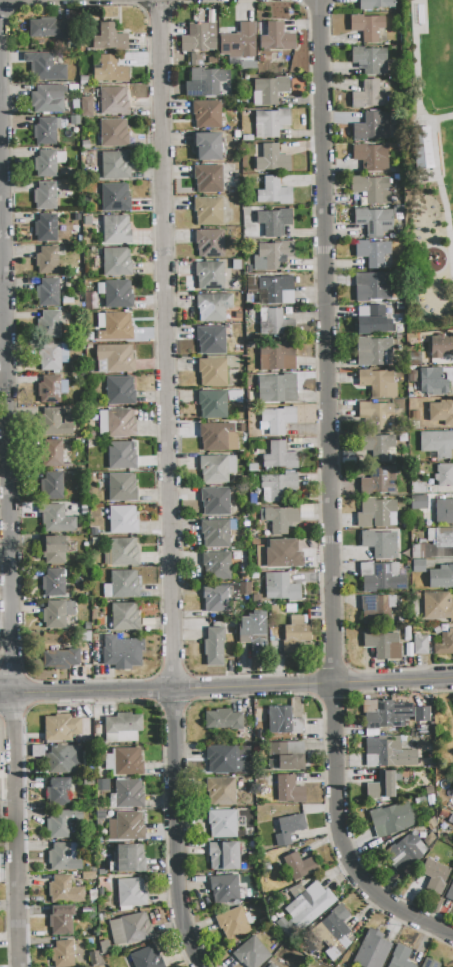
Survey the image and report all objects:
building: (375, 4)
building: (367, 27)
building: (47, 28)
building: (277, 37)
building: (109, 38)
building: (198, 39)
building: (239, 42)
building: (82, 50)
park: (436, 55)
building: (194, 58)
building: (262, 59)
building: (369, 59)
building: (248, 65)
building: (45, 67)
building: (110, 70)
road: (416, 74)
building: (76, 79)
building: (84, 80)
building: (207, 80)
building: (73, 88)
building: (269, 91)
building: (368, 95)
building: (47, 99)
building: (113, 101)
building: (86, 107)
building: (206, 114)
building: (74, 120)
building: (271, 123)
building: (372, 126)
building: (46, 131)
building: (114, 133)
building: (237, 134)
building: (247, 138)
park: (450, 144)
building: (85, 145)
building: (207, 146)
building: (421, 149)
park: (431, 152)
building: (370, 157)
building: (272, 159)
building: (45, 164)
building: (116, 165)
building: (208, 179)
building: (233, 181)
building: (372, 189)
building: (274, 192)
building: (44, 196)
building: (115, 197)
road: (442, 197)
building: (208, 211)
building: (249, 213)
building: (88, 220)
building: (373, 221)
building: (272, 223)
building: (45, 228)
building: (116, 230)
building: (209, 243)
building: (272, 254)
building: (374, 254)
building: (46, 260)
building: (116, 262)
building: (209, 275)
building: (378, 286)
building: (276, 290)
building: (48, 293)
building: (116, 293)
building: (249, 298)
building: (69, 302)
building: (213, 307)
building: (270, 321)
building: (374, 321)
building: (49, 325)
building: (114, 327)
building: (211, 340)
building: (89, 345)
building: (441, 346)
building: (374, 352)
building: (50, 357)
building: (277, 357)
building: (115, 359)
building: (213, 372)
building: (448, 373)
building: (411, 376)
building: (433, 382)
building: (377, 383)
building: (277, 388)
building: (49, 390)
building: (120, 391)
building: (212, 404)
building: (441, 412)
building: (373, 415)
building: (415, 415)
building: (277, 420)
building: (54, 422)
building: (116, 423)
building: (240, 427)
building: (218, 437)
building: (437, 443)
building: (377, 448)
building: (52, 454)
building: (122, 455)
building: (280, 456)
building: (217, 468)
building: (99, 476)
building: (444, 476)
building: (92, 477)
building: (379, 481)
road: (172, 485)
building: (52, 486)
building: (122, 487)
building: (418, 487)
building: (280, 488)
road: (332, 496)
building: (253, 497)
building: (215, 501)
building: (418, 502)
building: (84, 507)
road: (10, 510)
building: (84, 512)
building: (444, 512)
building: (377, 513)
building: (56, 519)
building: (280, 519)
building: (123, 520)
building: (93, 532)
building: (216, 533)
building: (255, 542)
building: (96, 543)
building: (380, 544)
building: (435, 544)
building: (54, 549)
building: (124, 552)
building: (282, 554)
building: (107, 557)
building: (217, 566)
building: (418, 566)
building: (256, 575)
building: (441, 576)
building: (383, 580)
building: (53, 583)
building: (124, 584)
building: (281, 587)
road: (6, 589)
building: (107, 591)
building: (216, 598)
building: (257, 599)
building: (437, 606)
building: (258, 609)
building: (290, 609)
building: (275, 610)
building: (377, 612)
building: (54, 615)
building: (125, 617)
road: (6, 625)
building: (88, 626)
building: (296, 630)
building: (436, 630)
building: (407, 631)
building: (88, 636)
building: (95, 637)
building: (254, 637)
building: (380, 644)
building: (444, 644)
building: (421, 645)
building: (97, 647)
building: (214, 647)
building: (122, 652)
building: (63, 658)
road: (226, 688)
building: (385, 713)
building: (421, 714)
building: (224, 720)
building: (123, 723)
building: (284, 723)
building: (60, 728)
building: (97, 729)
building: (248, 734)
building: (389, 754)
building: (285, 756)
building: (60, 758)
building: (219, 759)
building: (124, 762)
road: (8, 778)
building: (88, 781)
building: (102, 785)
building: (382, 786)
building: (289, 790)
building: (220, 791)
building: (430, 791)
building: (57, 792)
building: (127, 794)
building: (444, 814)
building: (101, 815)
building: (390, 819)
building: (61, 823)
building: (222, 823)
building: (431, 823)
building: (127, 826)
building: (288, 828)
building: (251, 832)
building: (99, 839)
building: (101, 849)
building: (404, 849)
building: (223, 856)
building: (62, 858)
building: (130, 858)
building: (102, 859)
building: (299, 865)
building: (435, 875)
building: (88, 876)
building: (200, 880)
building: (224, 887)
building: (65, 889)
building: (131, 892)
building: (450, 893)
building: (92, 895)
building: (311, 904)
building: (88, 911)
building: (248, 918)
building: (61, 920)
building: (263, 921)
building: (232, 923)
building: (283, 926)
building: (334, 926)
building: (129, 929)
building: (105, 947)
building: (373, 950)
building: (252, 953)
building: (62, 954)
building: (398, 957)
building: (94, 958)
building: (146, 958)
building: (112, 962)
building: (428, 963)
building: (270, 965)

